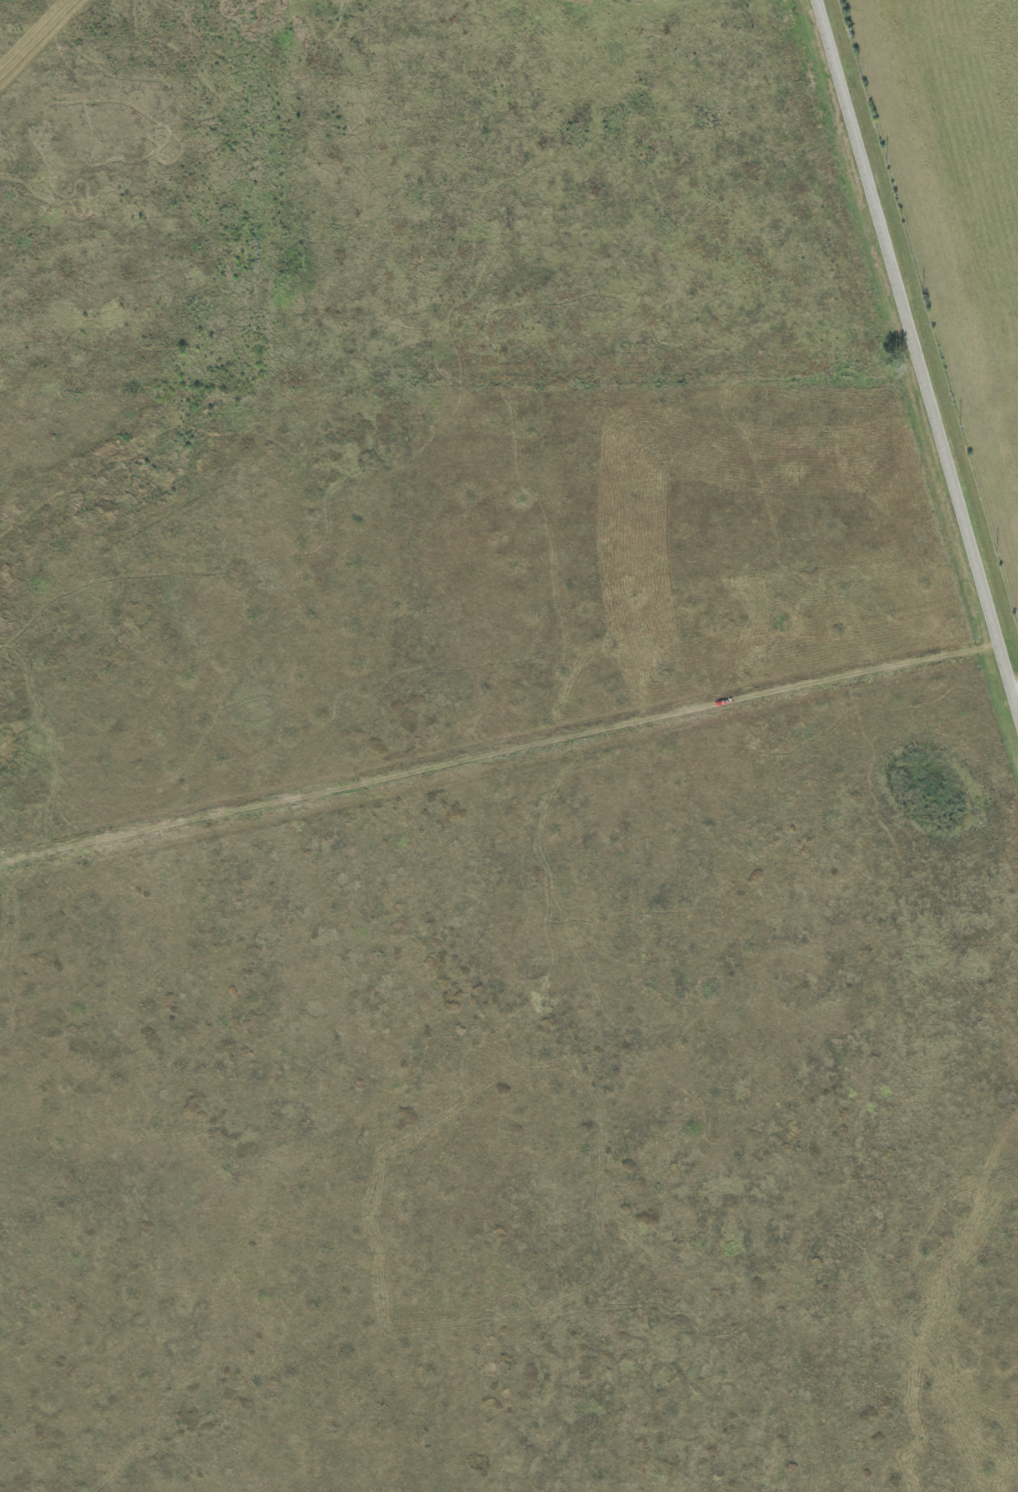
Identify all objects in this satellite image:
road: (918, 353)
road: (1015, 684)

